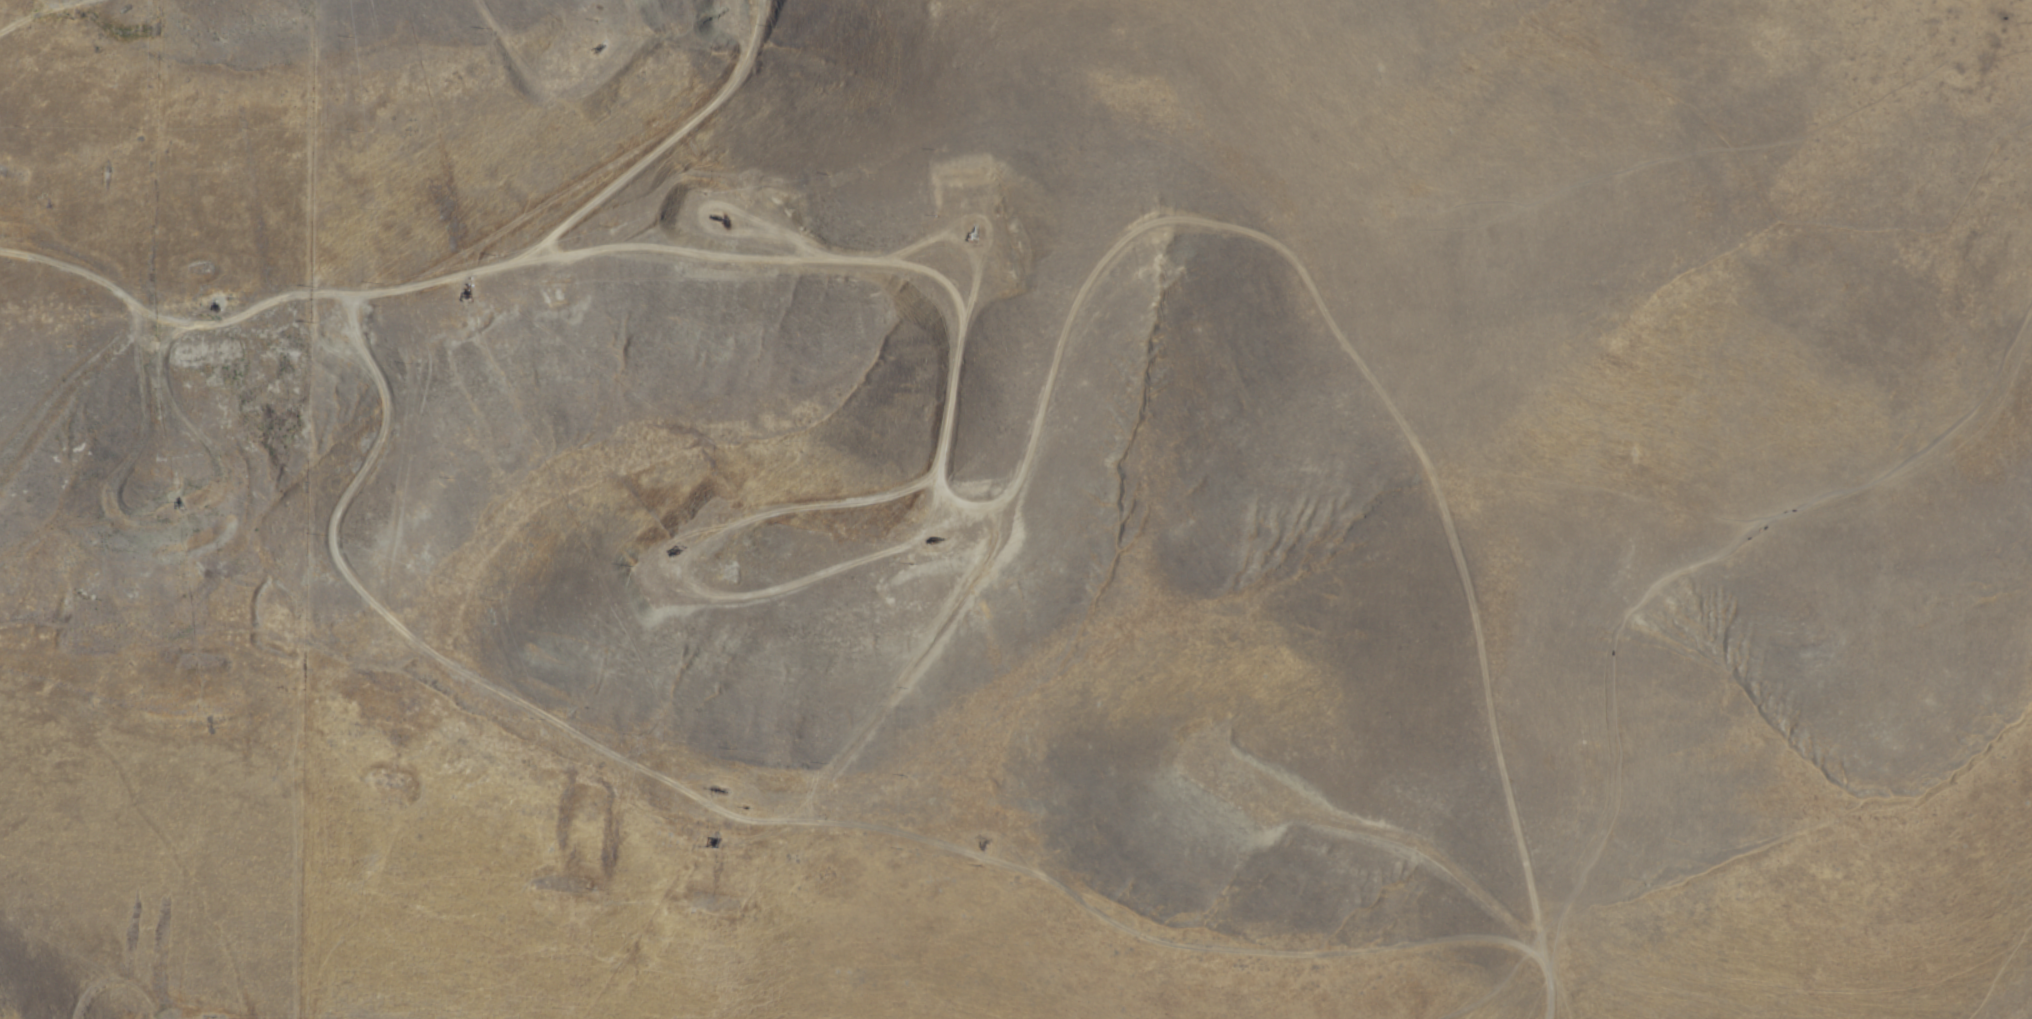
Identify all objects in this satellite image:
road: (45, 11)
road: (75, 274)
road: (333, 296)
road: (237, 752)
road: (987, 862)

